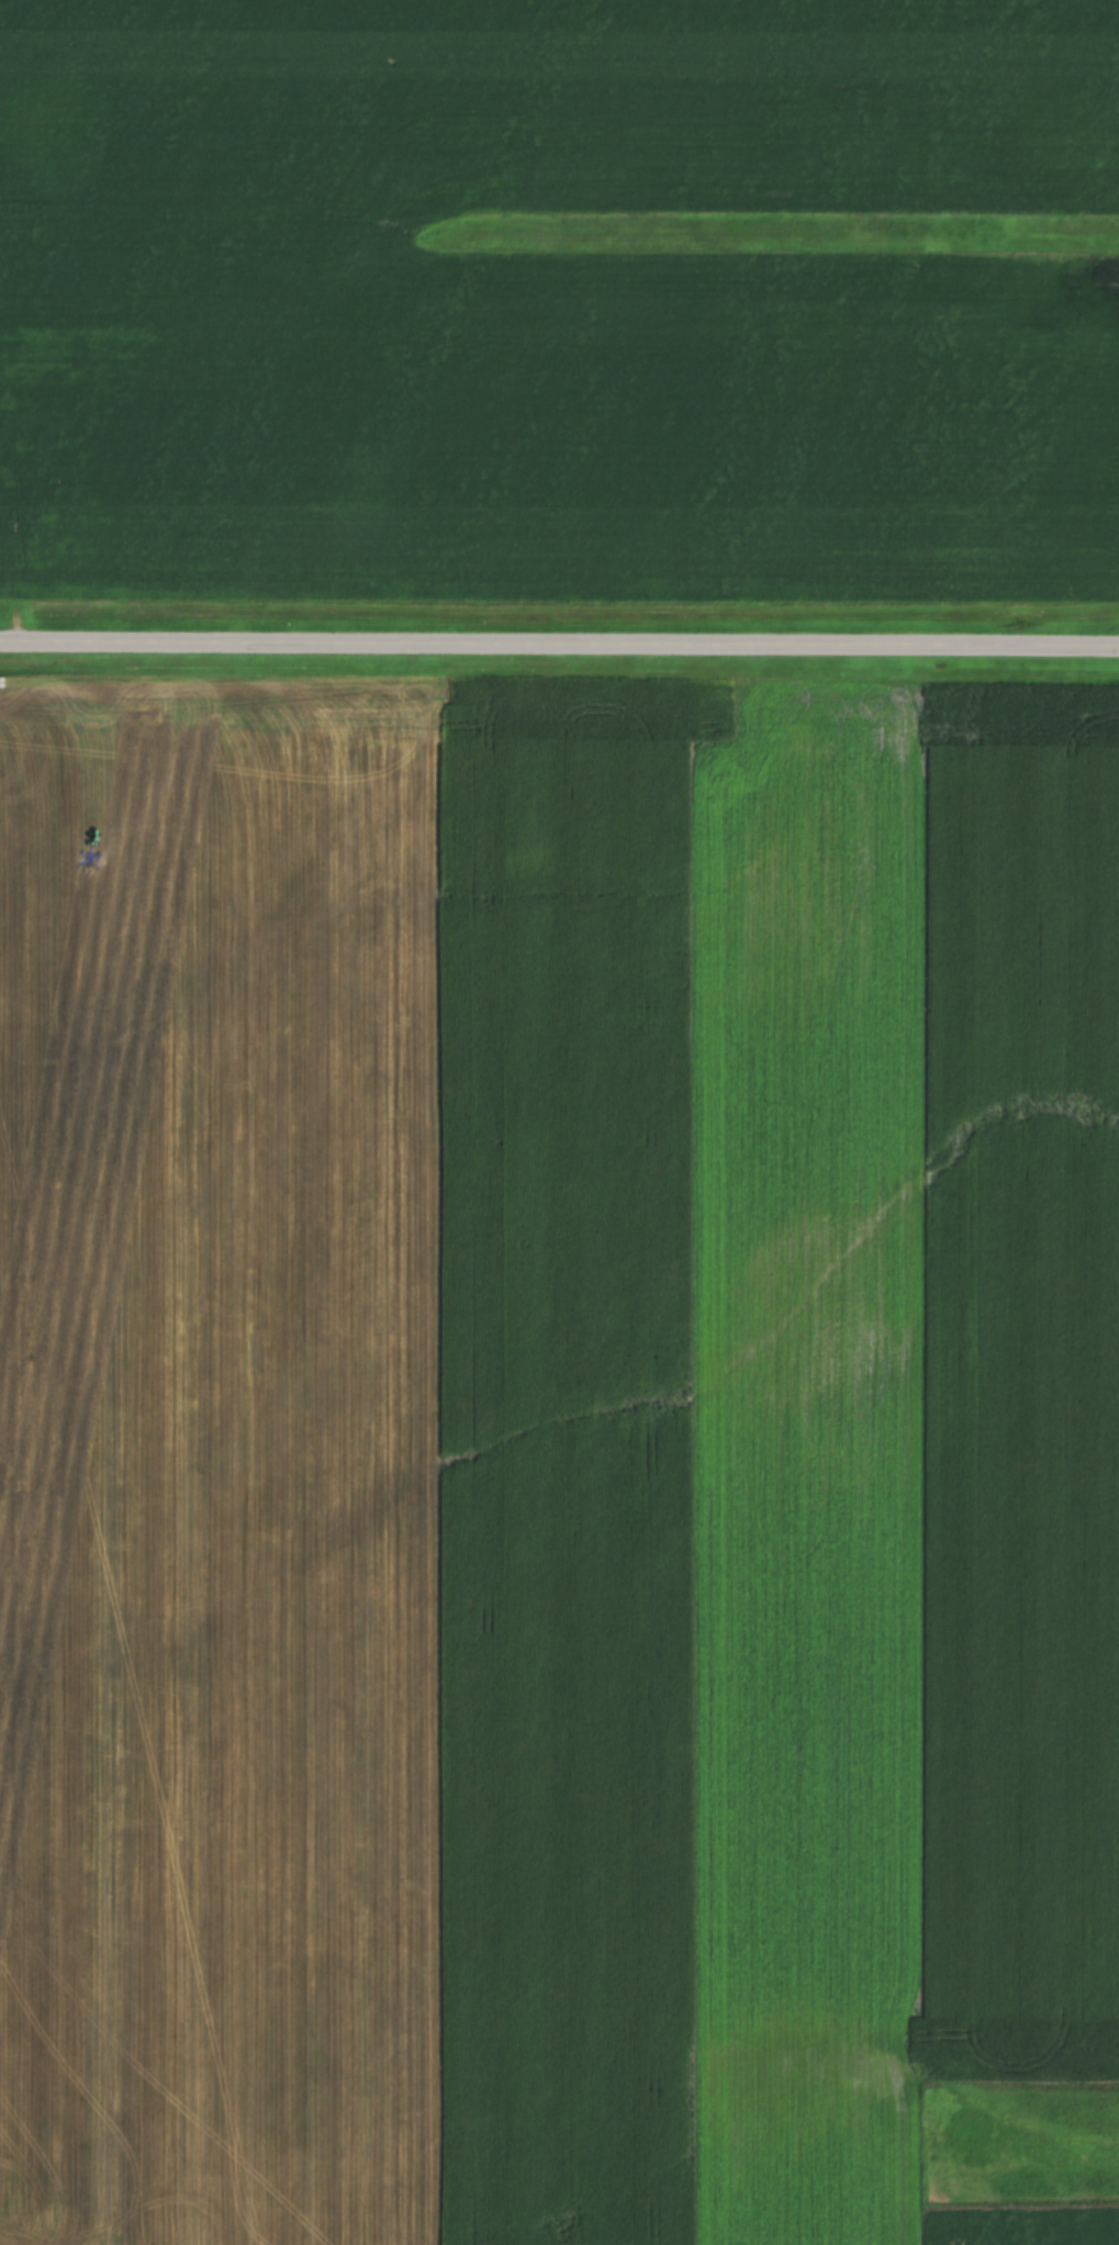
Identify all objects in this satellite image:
road: (559, 640)

